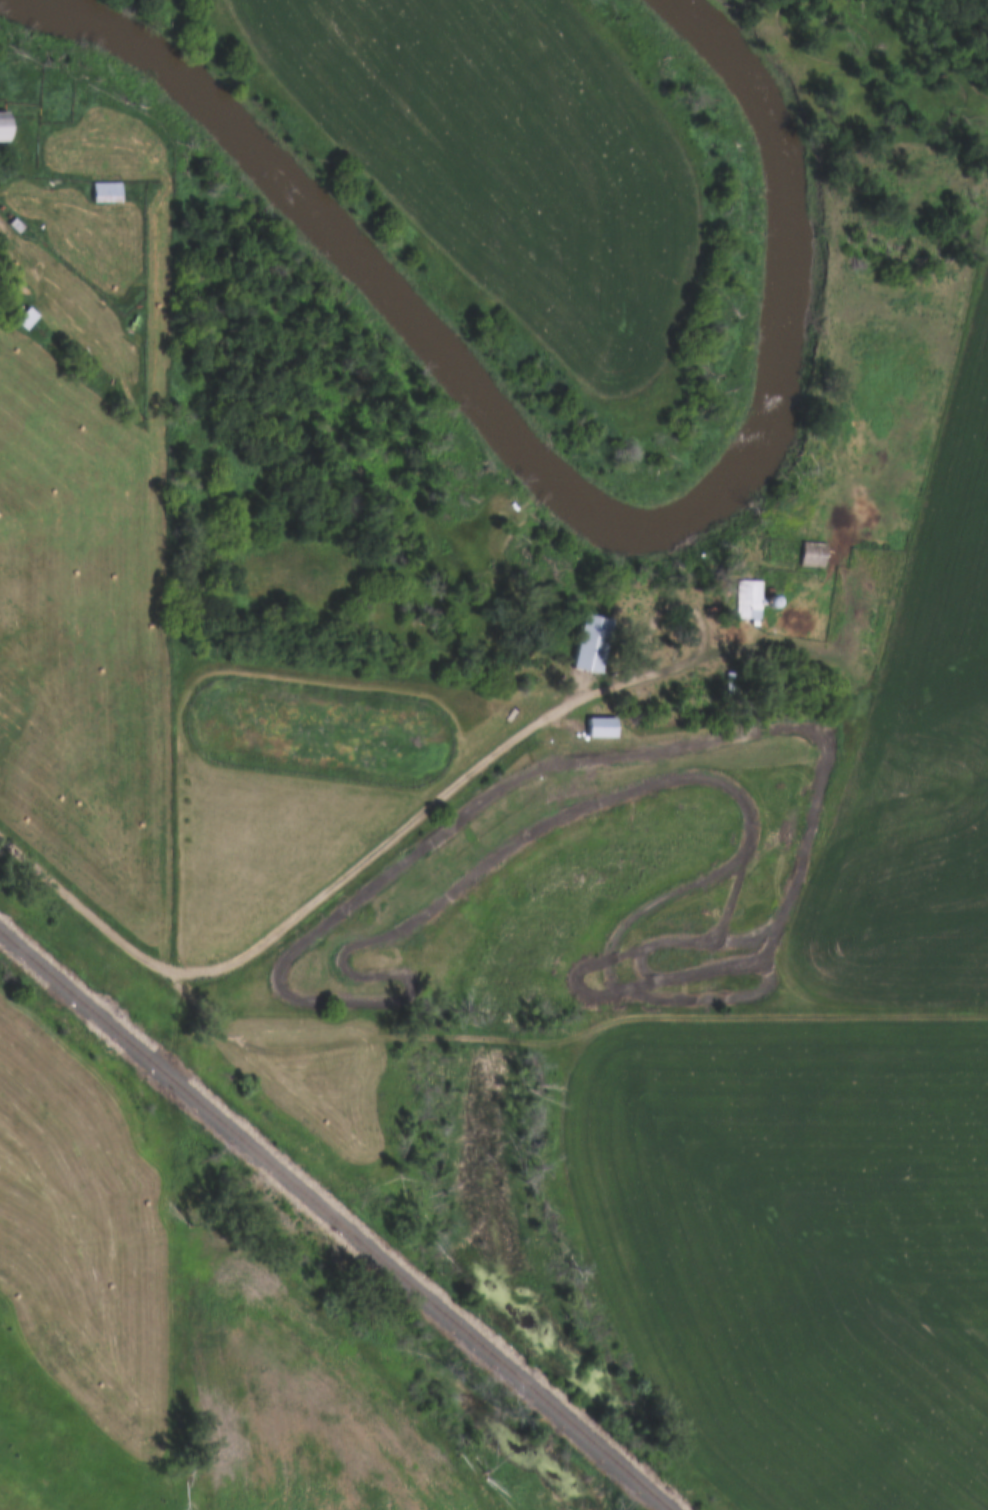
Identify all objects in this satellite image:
building: (8, 126)
building: (110, 193)
building: (28, 318)
river: (561, 485)
building: (813, 555)
building: (733, 587)
building: (750, 600)
building: (604, 645)
building: (607, 728)
raceway: (719, 845)
road: (321, 894)
road: (559, 1034)
railway: (334, 1220)

